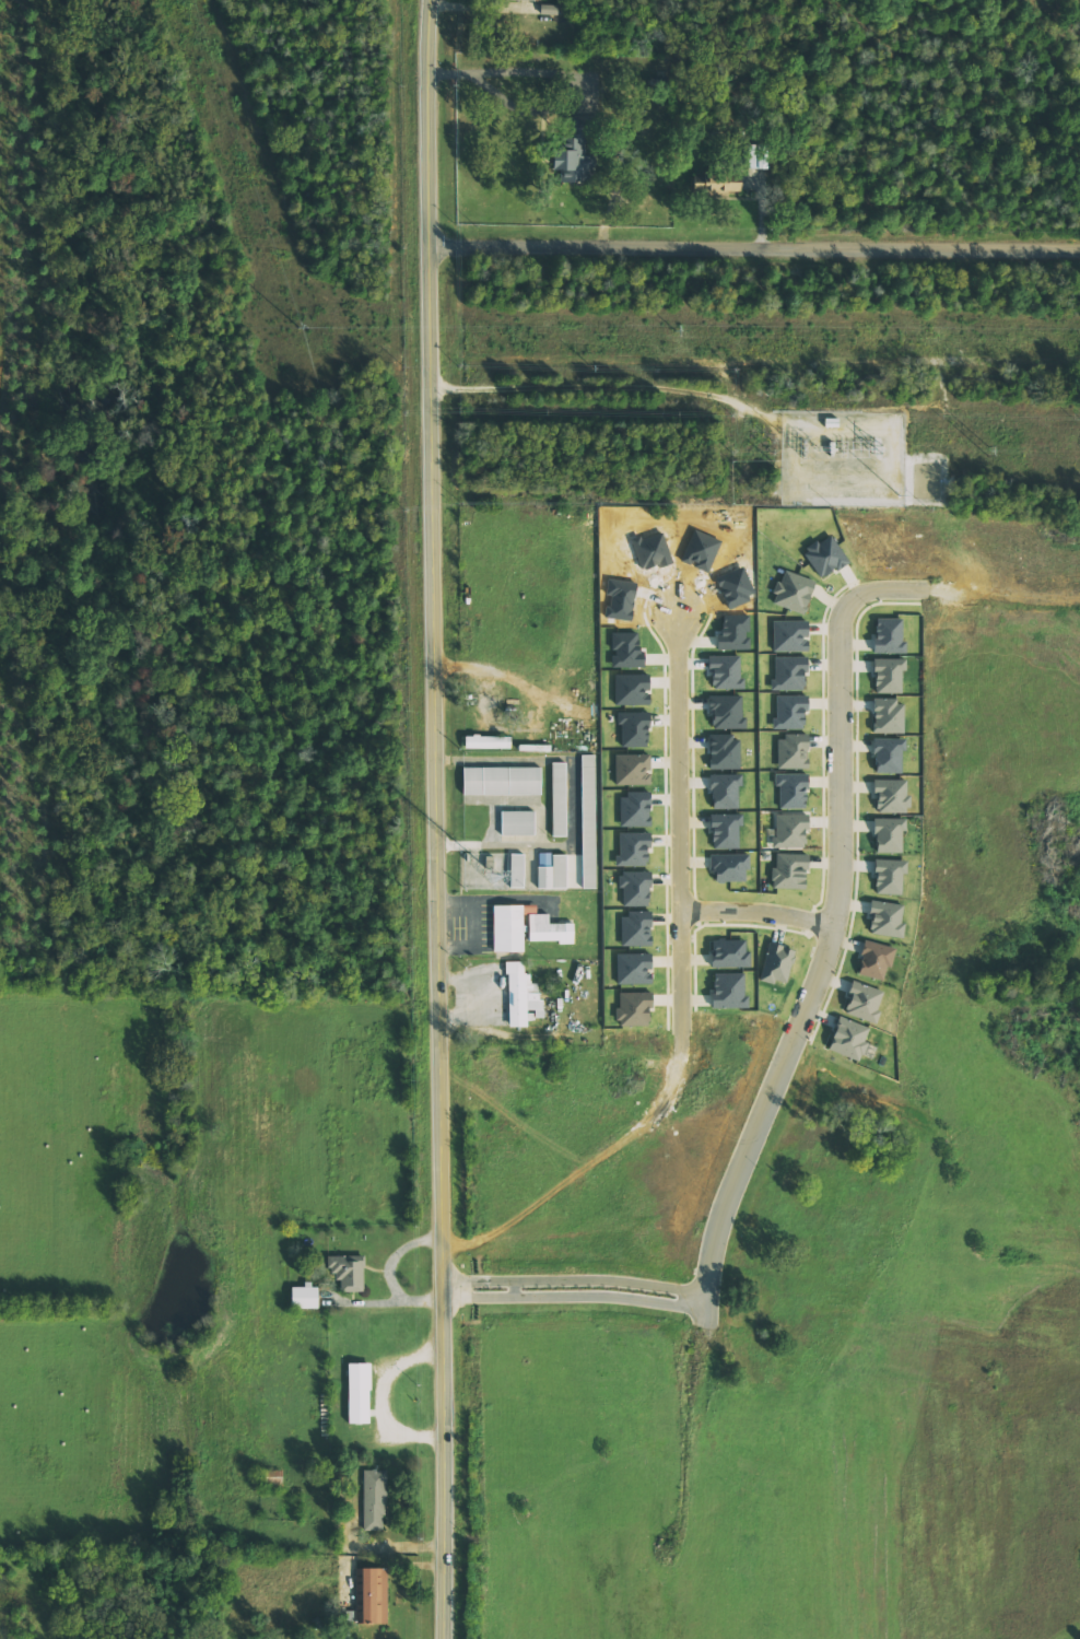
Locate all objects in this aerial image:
building: (531, 0)
building: (549, 9)
building: (572, 152)
building: (717, 183)
road: (755, 248)
power tower: (858, 440)
power tower: (985, 447)
power substation: (843, 459)
building: (825, 555)
building: (793, 592)
building: (790, 635)
building: (888, 635)
building: (789, 672)
building: (888, 675)
building: (790, 712)
building: (888, 716)
building: (486, 741)
building: (791, 751)
building: (888, 756)
building: (632, 769)
building: (502, 781)
building: (791, 791)
building: (891, 796)
building: (559, 799)
building: (634, 809)
road: (437, 819)
building: (517, 822)
road: (683, 823)
building: (725, 831)
building: (789, 831)
building: (889, 835)
building: (633, 848)
building: (584, 850)
building: (729, 867)
building: (516, 870)
building: (552, 871)
building: (789, 871)
building: (889, 877)
building: (635, 888)
road: (761, 913)
building: (885, 920)
building: (525, 927)
building: (635, 929)
road: (835, 936)
building: (729, 953)
building: (874, 960)
building: (776, 963)
building: (633, 969)
building: (729, 990)
building: (521, 996)
building: (864, 1002)
building: (634, 1008)
building: (849, 1039)
building: (348, 1273)
road: (574, 1288)
building: (304, 1297)
building: (357, 1392)
road: (383, 1398)
building: (272, 1479)
building: (374, 1500)
building: (371, 1596)

